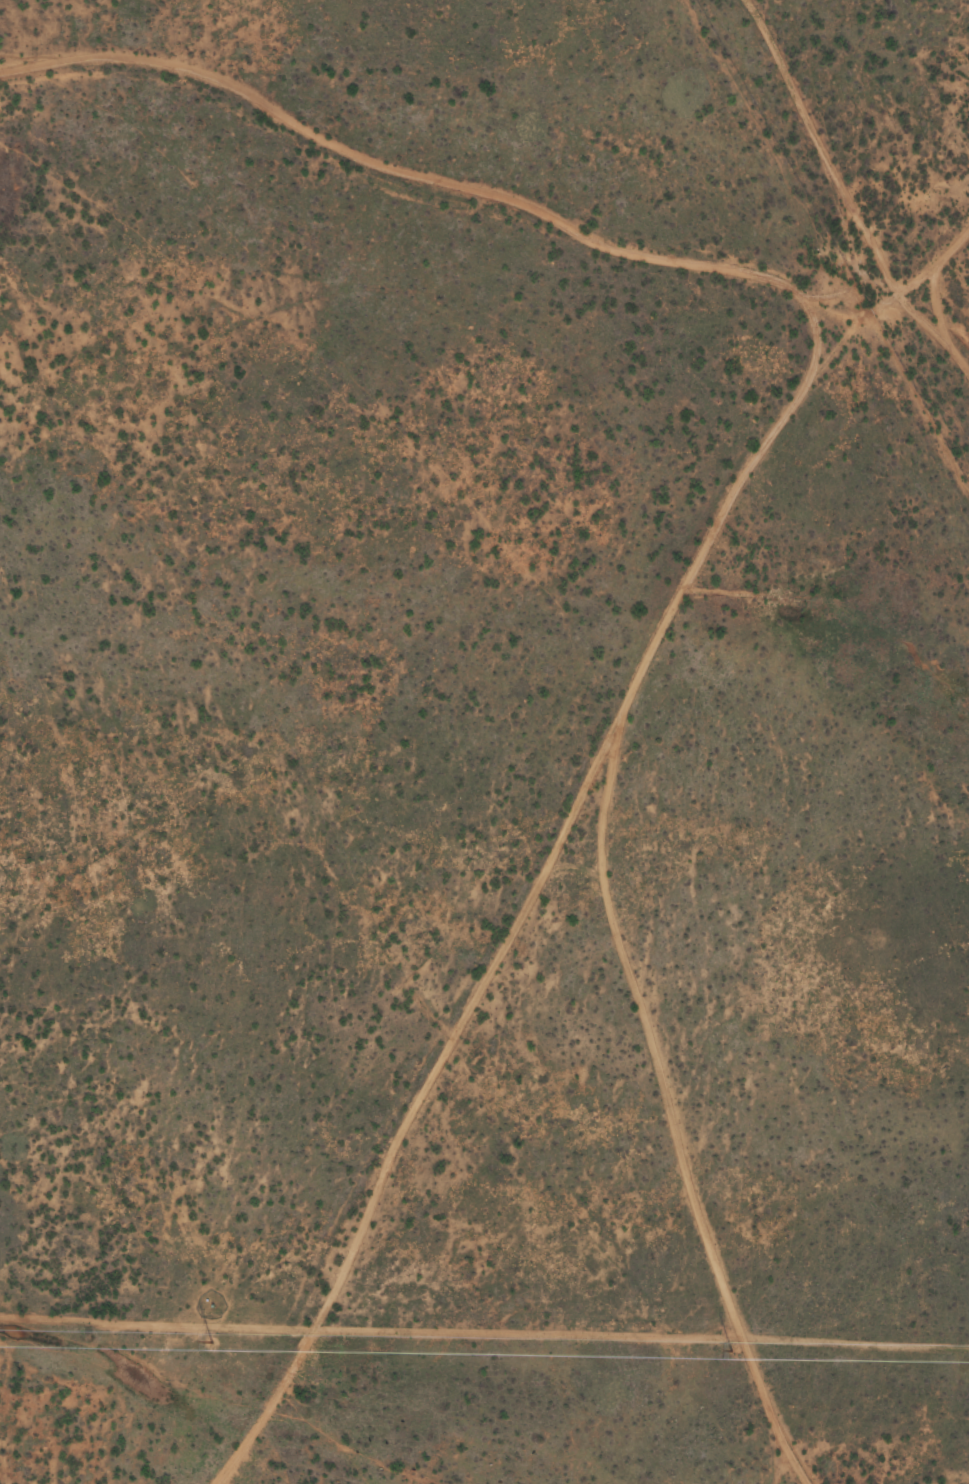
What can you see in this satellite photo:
road: (968, 276)
road: (733, 532)
road: (393, 1158)
road: (689, 1165)
power tower: (213, 1341)
power tower: (732, 1350)

